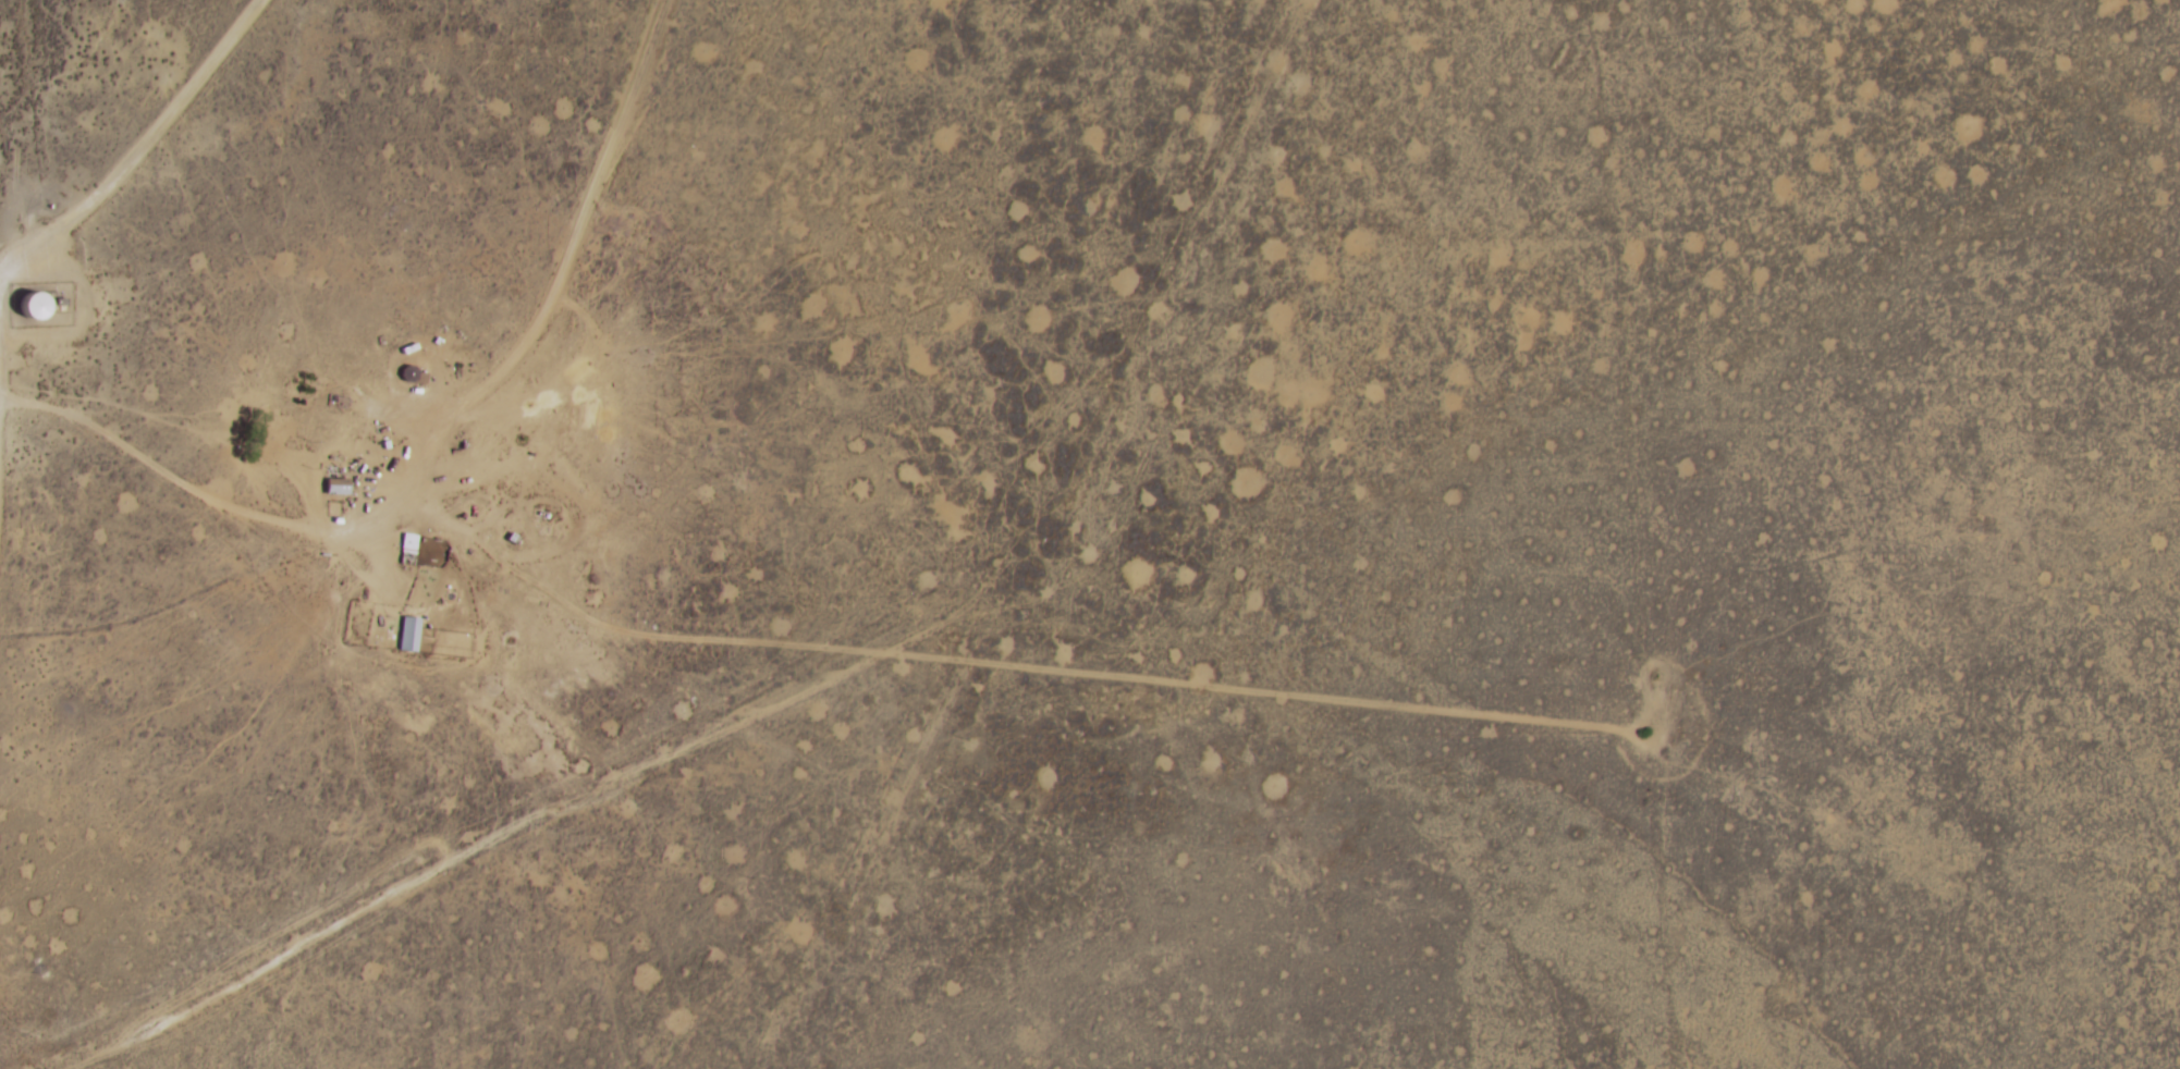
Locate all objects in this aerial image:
road: (122, 163)
building: (37, 306)
road: (1151, 331)
road: (2, 336)
road: (5, 455)
road: (439, 460)
building: (338, 486)
building: (409, 634)
road: (528, 862)
road: (885, 865)

